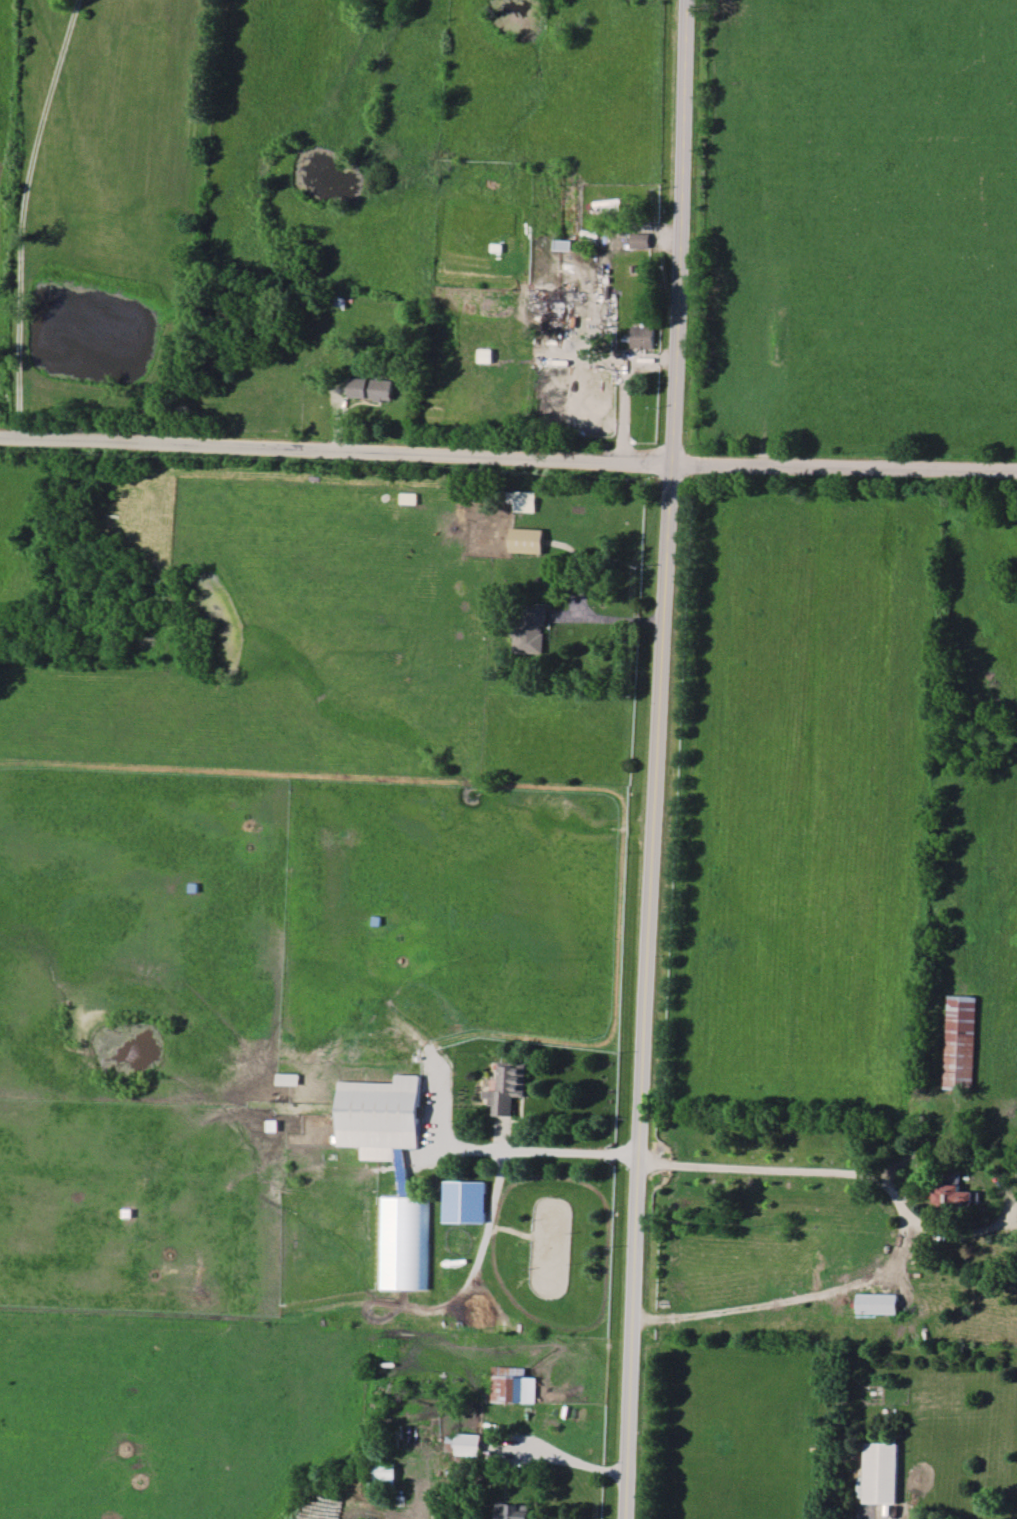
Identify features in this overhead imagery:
building: (607, 206)
road: (21, 212)
building: (640, 241)
building: (563, 246)
building: (552, 307)
building: (643, 338)
building: (373, 390)
road: (508, 456)
building: (525, 501)
building: (529, 541)
road: (606, 622)
building: (533, 631)
road: (658, 759)
building: (961, 1044)
building: (289, 1080)
building: (508, 1088)
building: (382, 1117)
road: (547, 1152)
building: (955, 1197)
road: (903, 1227)
building: (406, 1244)
building: (878, 1304)
building: (514, 1386)
building: (465, 1445)
road: (568, 1460)
building: (881, 1473)
building: (383, 1476)
building: (514, 1511)

